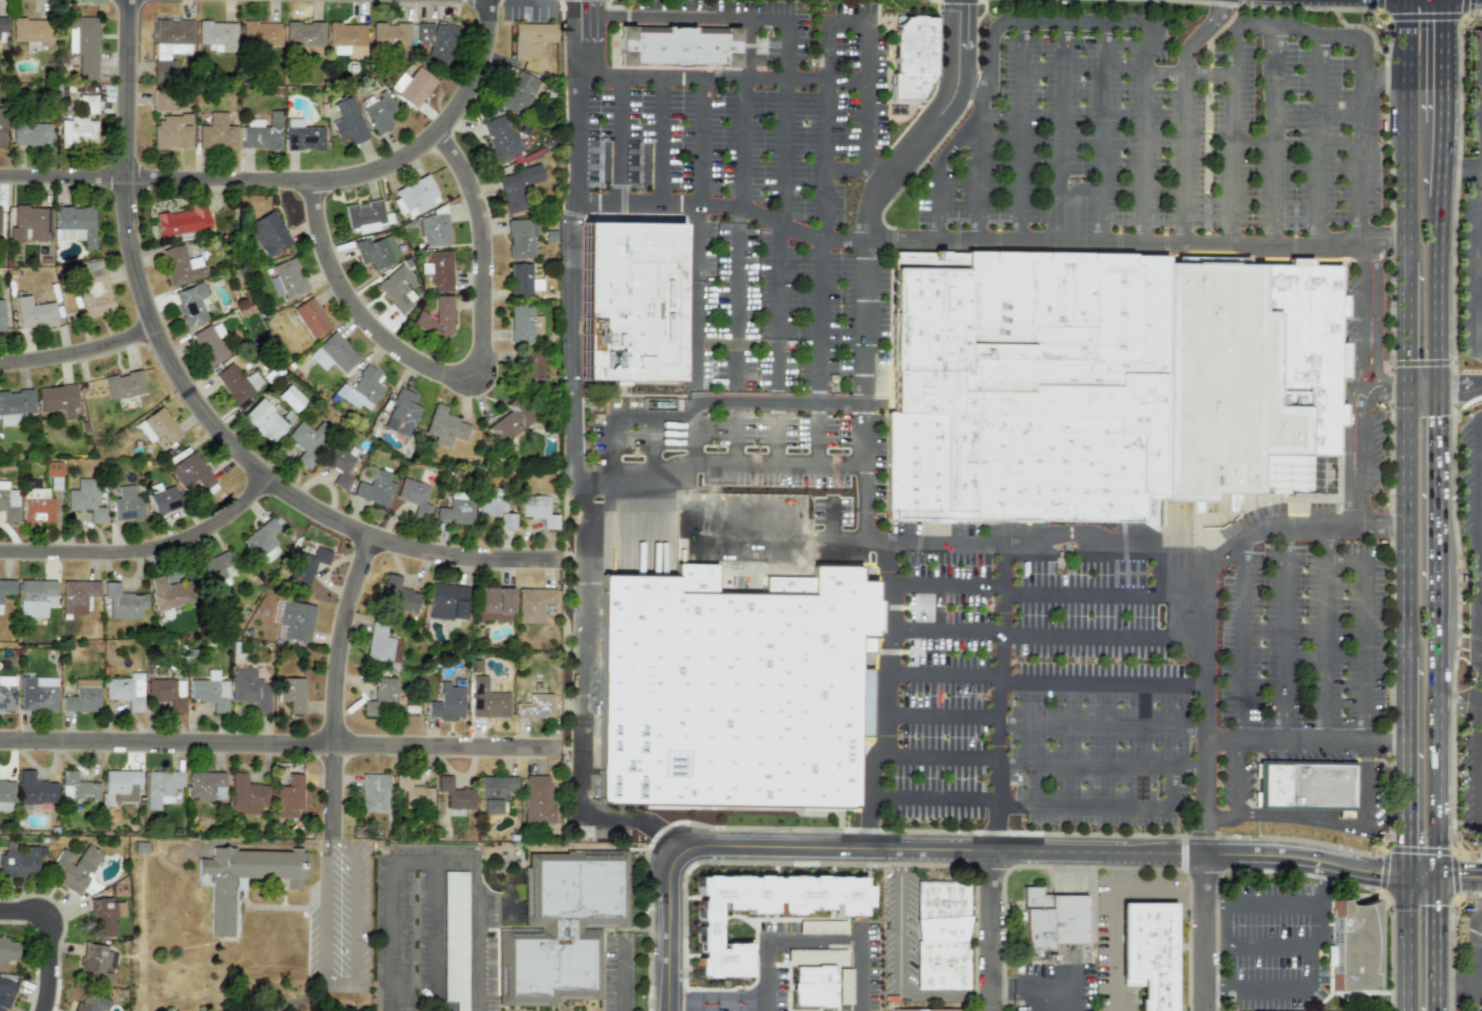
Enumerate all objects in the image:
road: (689, 14)
road: (848, 18)
building: (2, 24)
building: (29, 30)
building: (260, 33)
building: (303, 33)
building: (389, 35)
road: (591, 35)
building: (217, 36)
road: (571, 36)
building: (346, 39)
building: (531, 39)
building: (435, 41)
building: (83, 44)
building: (169, 45)
building: (674, 45)
building: (912, 58)
road: (1446, 59)
building: (1478, 61)
road: (949, 64)
road: (965, 69)
road: (1230, 69)
road: (717, 74)
building: (411, 86)
building: (518, 92)
road: (863, 94)
building: (162, 101)
building: (378, 113)
road: (1185, 113)
road: (744, 114)
building: (347, 121)
road: (787, 121)
building: (79, 124)
building: (1, 125)
parking lot: (1477, 125)
road: (828, 129)
road: (1402, 131)
building: (172, 132)
building: (262, 132)
road: (1273, 132)
building: (216, 133)
building: (30, 134)
building: (302, 135)
road: (618, 136)
road: (1317, 136)
road: (658, 137)
building: (499, 138)
road: (700, 138)
road: (1357, 138)
road: (1444, 158)
road: (940, 166)
road: (859, 169)
road: (1463, 169)
road: (980, 173)
road: (890, 178)
road: (1017, 178)
road: (1056, 180)
road: (1101, 182)
road: (1147, 185)
road: (295, 186)
building: (517, 186)
building: (415, 196)
road: (1480, 202)
road: (702, 203)
building: (363, 215)
building: (183, 219)
building: (30, 223)
building: (75, 224)
building: (0, 230)
building: (434, 230)
building: (267, 233)
road: (1480, 234)
building: (520, 237)
road: (1051, 239)
road: (699, 240)
road: (847, 240)
building: (375, 250)
road: (1480, 261)
building: (181, 265)
building: (438, 269)
road: (1478, 275)
building: (286, 278)
building: (521, 279)
parking lot: (1470, 280)
building: (395, 288)
road: (1440, 291)
building: (95, 294)
road: (1480, 294)
building: (190, 303)
building: (638, 303)
road: (739, 307)
parking lot: (785, 312)
building: (34, 313)
road: (778, 313)
building: (1, 316)
building: (310, 317)
building: (436, 317)
building: (251, 322)
road: (820, 322)
building: (523, 324)
road: (1480, 324)
road: (1402, 325)
road: (694, 344)
building: (332, 353)
road: (1480, 355)
road: (75, 359)
building: (530, 366)
building: (236, 382)
road: (1460, 383)
building: (123, 384)
road: (1421, 386)
building: (360, 388)
building: (1027, 390)
road: (468, 397)
building: (290, 398)
building: (56, 399)
building: (15, 406)
road: (187, 406)
road: (696, 410)
building: (400, 412)
road: (1479, 414)
building: (509, 419)
building: (263, 420)
building: (157, 426)
building: (444, 427)
road: (1479, 437)
building: (307, 440)
road: (1476, 454)
building: (338, 465)
road: (1479, 465)
building: (52, 468)
building: (191, 472)
road: (734, 479)
road: (777, 479)
parking lot: (783, 480)
road: (816, 480)
road: (653, 482)
road: (1439, 487)
parking lot: (1469, 487)
building: (375, 488)
road: (585, 489)
building: (413, 496)
road: (1478, 497)
building: (84, 499)
building: (164, 500)
building: (8, 503)
building: (1231, 503)
building: (126, 504)
building: (37, 507)
building: (454, 510)
building: (494, 510)
building: (535, 510)
road: (1403, 523)
road: (1478, 526)
building: (262, 540)
road: (1139, 540)
road: (1322, 544)
road: (782, 556)
road: (1479, 557)
road: (142, 562)
road: (1344, 564)
building: (306, 565)
building: (215, 566)
road: (946, 585)
building: (6, 587)
building: (168, 593)
road: (1110, 594)
building: (77, 595)
building: (397, 595)
building: (35, 597)
building: (447, 601)
building: (122, 602)
building: (493, 603)
building: (531, 603)
building: (296, 620)
parking lot: (1302, 624)
road: (1058, 632)
road: (1284, 634)
road: (1238, 640)
building: (382, 646)
road: (1481, 657)
road: (887, 669)
road: (1046, 675)
parking lot: (943, 676)
road: (1480, 682)
road: (329, 689)
building: (728, 689)
building: (125, 690)
building: (250, 690)
building: (209, 691)
building: (6, 692)
building: (37, 693)
building: (291, 693)
building: (165, 695)
road: (1481, 695)
building: (82, 697)
road: (1002, 697)
building: (381, 698)
building: (486, 700)
parking lot: (1093, 700)
road: (1459, 702)
building: (445, 703)
building: (535, 706)
road: (1044, 718)
road: (1204, 718)
road: (1438, 734)
road: (1480, 735)
road: (1285, 742)
road: (277, 744)
road: (1385, 744)
road: (1043, 758)
road: (1402, 768)
road: (1480, 769)
road: (1238, 778)
road: (1213, 781)
building: (119, 786)
building: (206, 786)
building: (1309, 786)
building: (160, 787)
building: (34, 789)
building: (77, 789)
building: (372, 792)
building: (494, 792)
building: (412, 793)
building: (246, 794)
building: (455, 794)
building: (6, 795)
building: (289, 797)
building: (536, 800)
road: (1008, 800)
road: (1480, 801)
road: (1313, 820)
road: (335, 841)
road: (961, 850)
road: (433, 858)
building: (18, 861)
building: (74, 867)
traffic signals: (1402, 878)
road: (1420, 878)
traffic signals: (1438, 879)
road: (1459, 879)
building: (226, 893)
road: (1255, 900)
building: (763, 910)
building: (104, 915)
building: (1052, 919)
building: (562, 927)
road: (436, 928)
road: (990, 931)
road: (1202, 931)
building: (941, 935)
building: (454, 938)
road: (792, 941)
road: (1402, 944)
road: (1438, 945)
road: (43, 947)
road: (1243, 949)
road: (900, 950)
building: (7, 951)
building: (1355, 951)
building: (1148, 953)
building: (816, 956)
building: (96, 963)
road: (1477, 965)
road: (1310, 973)
road: (625, 977)
road: (338, 979)
road: (1256, 982)
road: (861, 983)
building: (814, 986)
road: (1035, 987)
building: (5, 991)
road: (717, 997)
building: (90, 1002)
road: (727, 1003)
road: (764, 1007)
road: (716, 1008)
building: (925, 1009)

